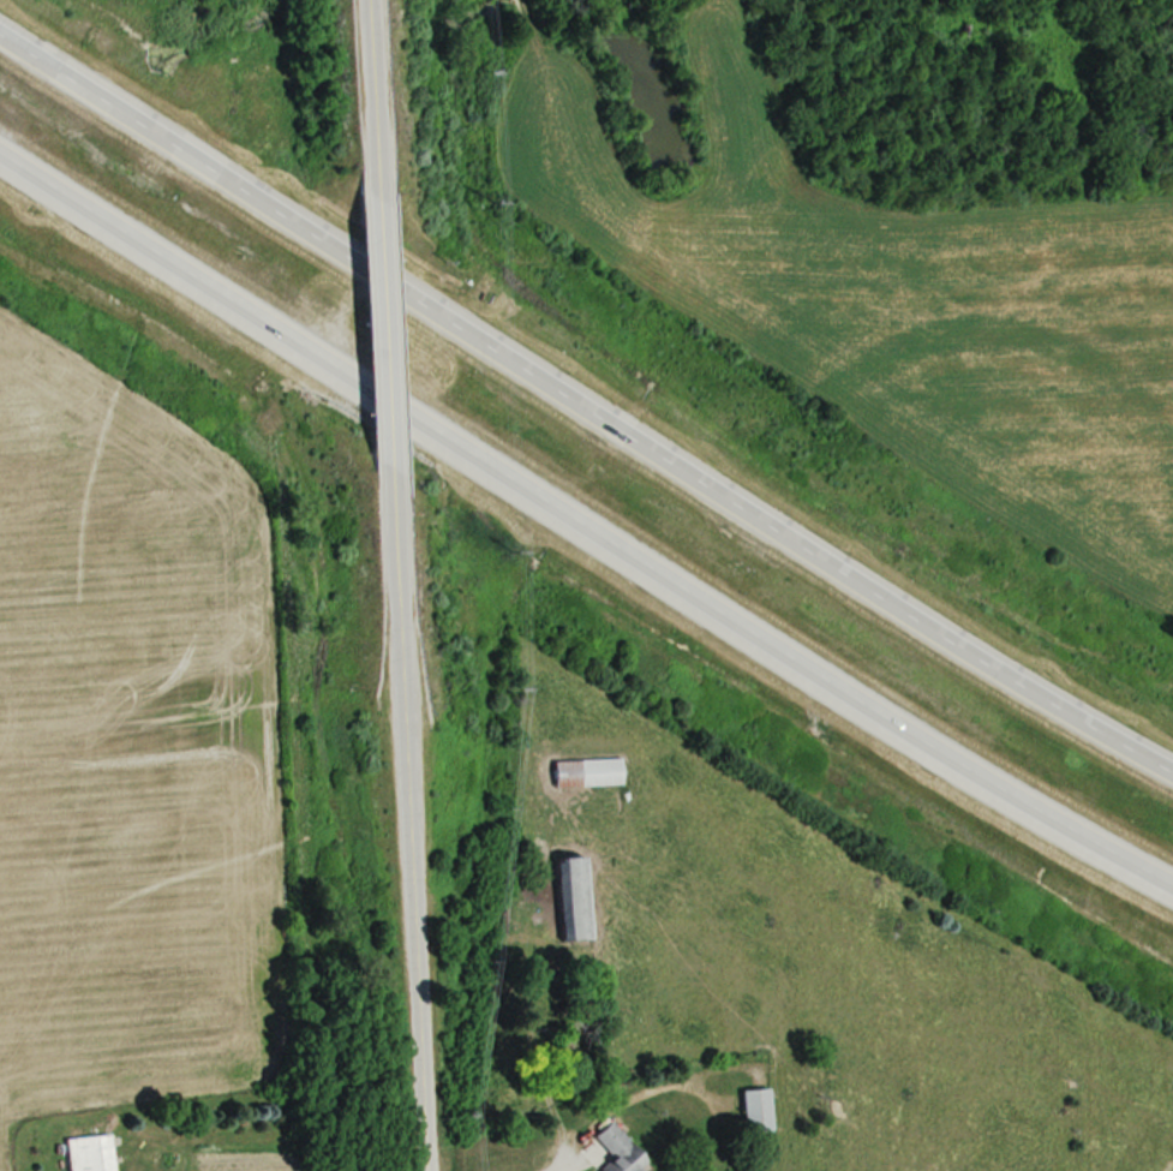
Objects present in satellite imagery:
road: (369, 97)
road: (383, 341)
road: (583, 410)
road: (581, 526)
building: (587, 772)
road: (405, 830)
building: (573, 896)
building: (756, 1109)
building: (618, 1149)
building: (89, 1153)
road: (550, 1166)

